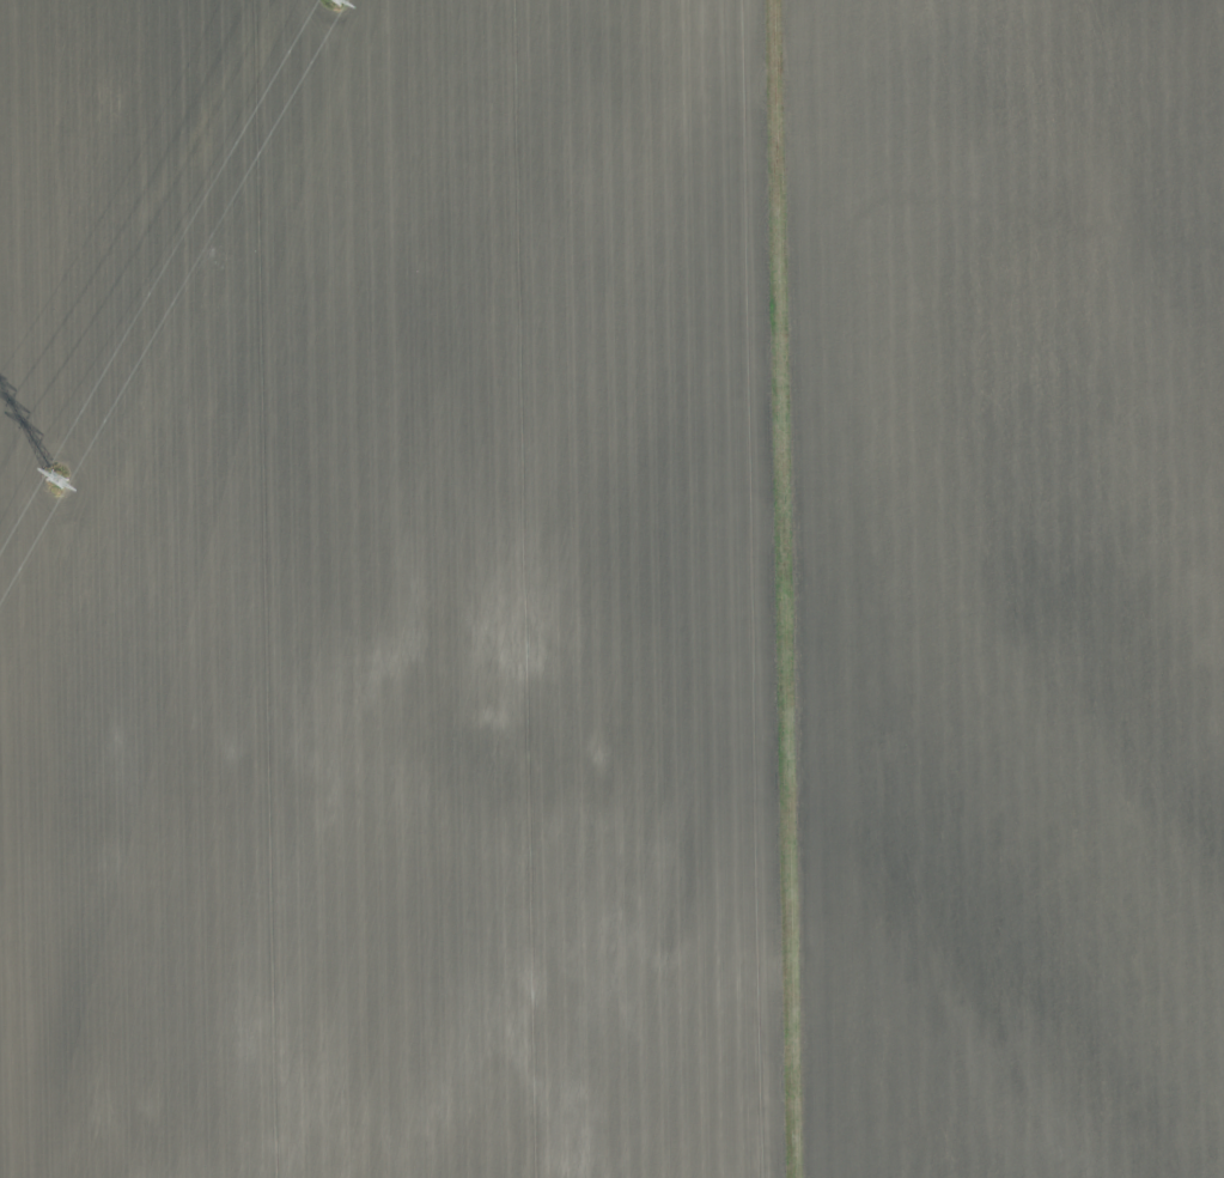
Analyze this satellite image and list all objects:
power tower: (57, 480)
road: (790, 589)

